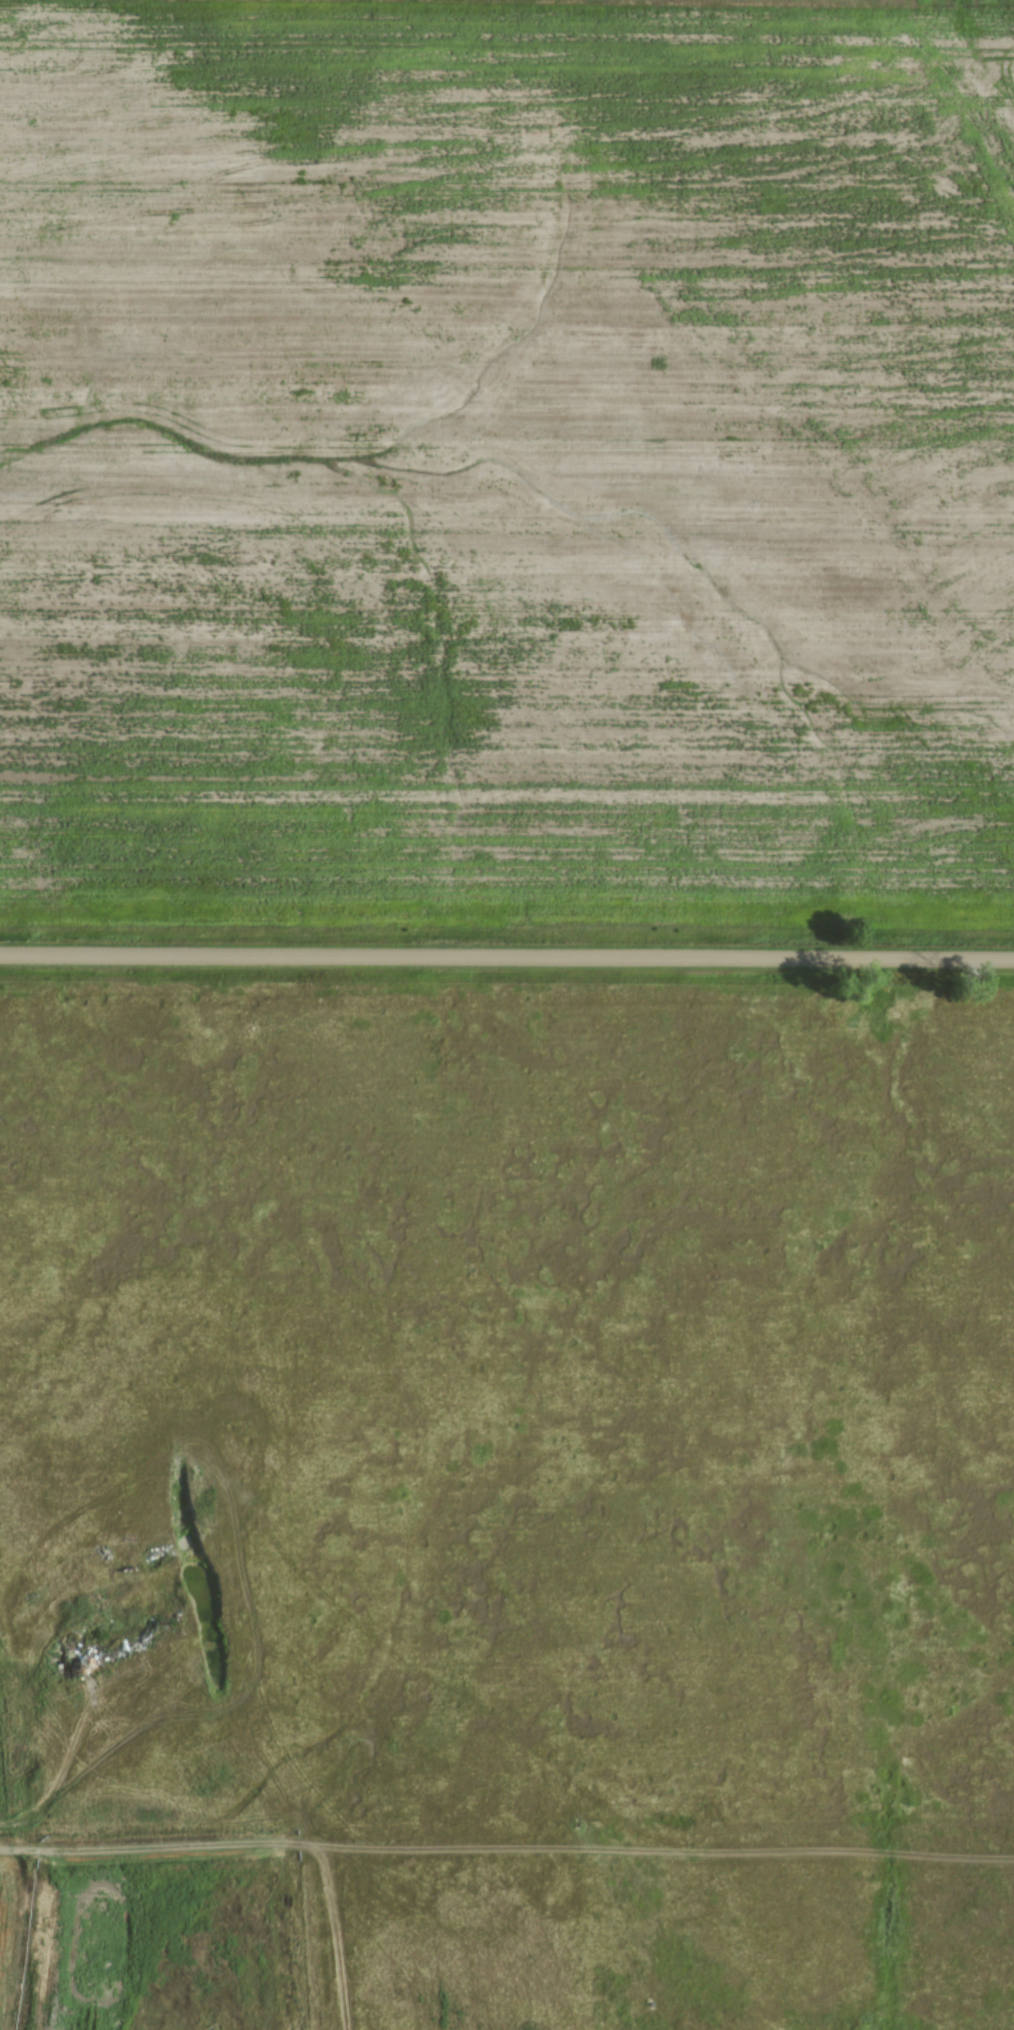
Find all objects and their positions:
road: (507, 956)

